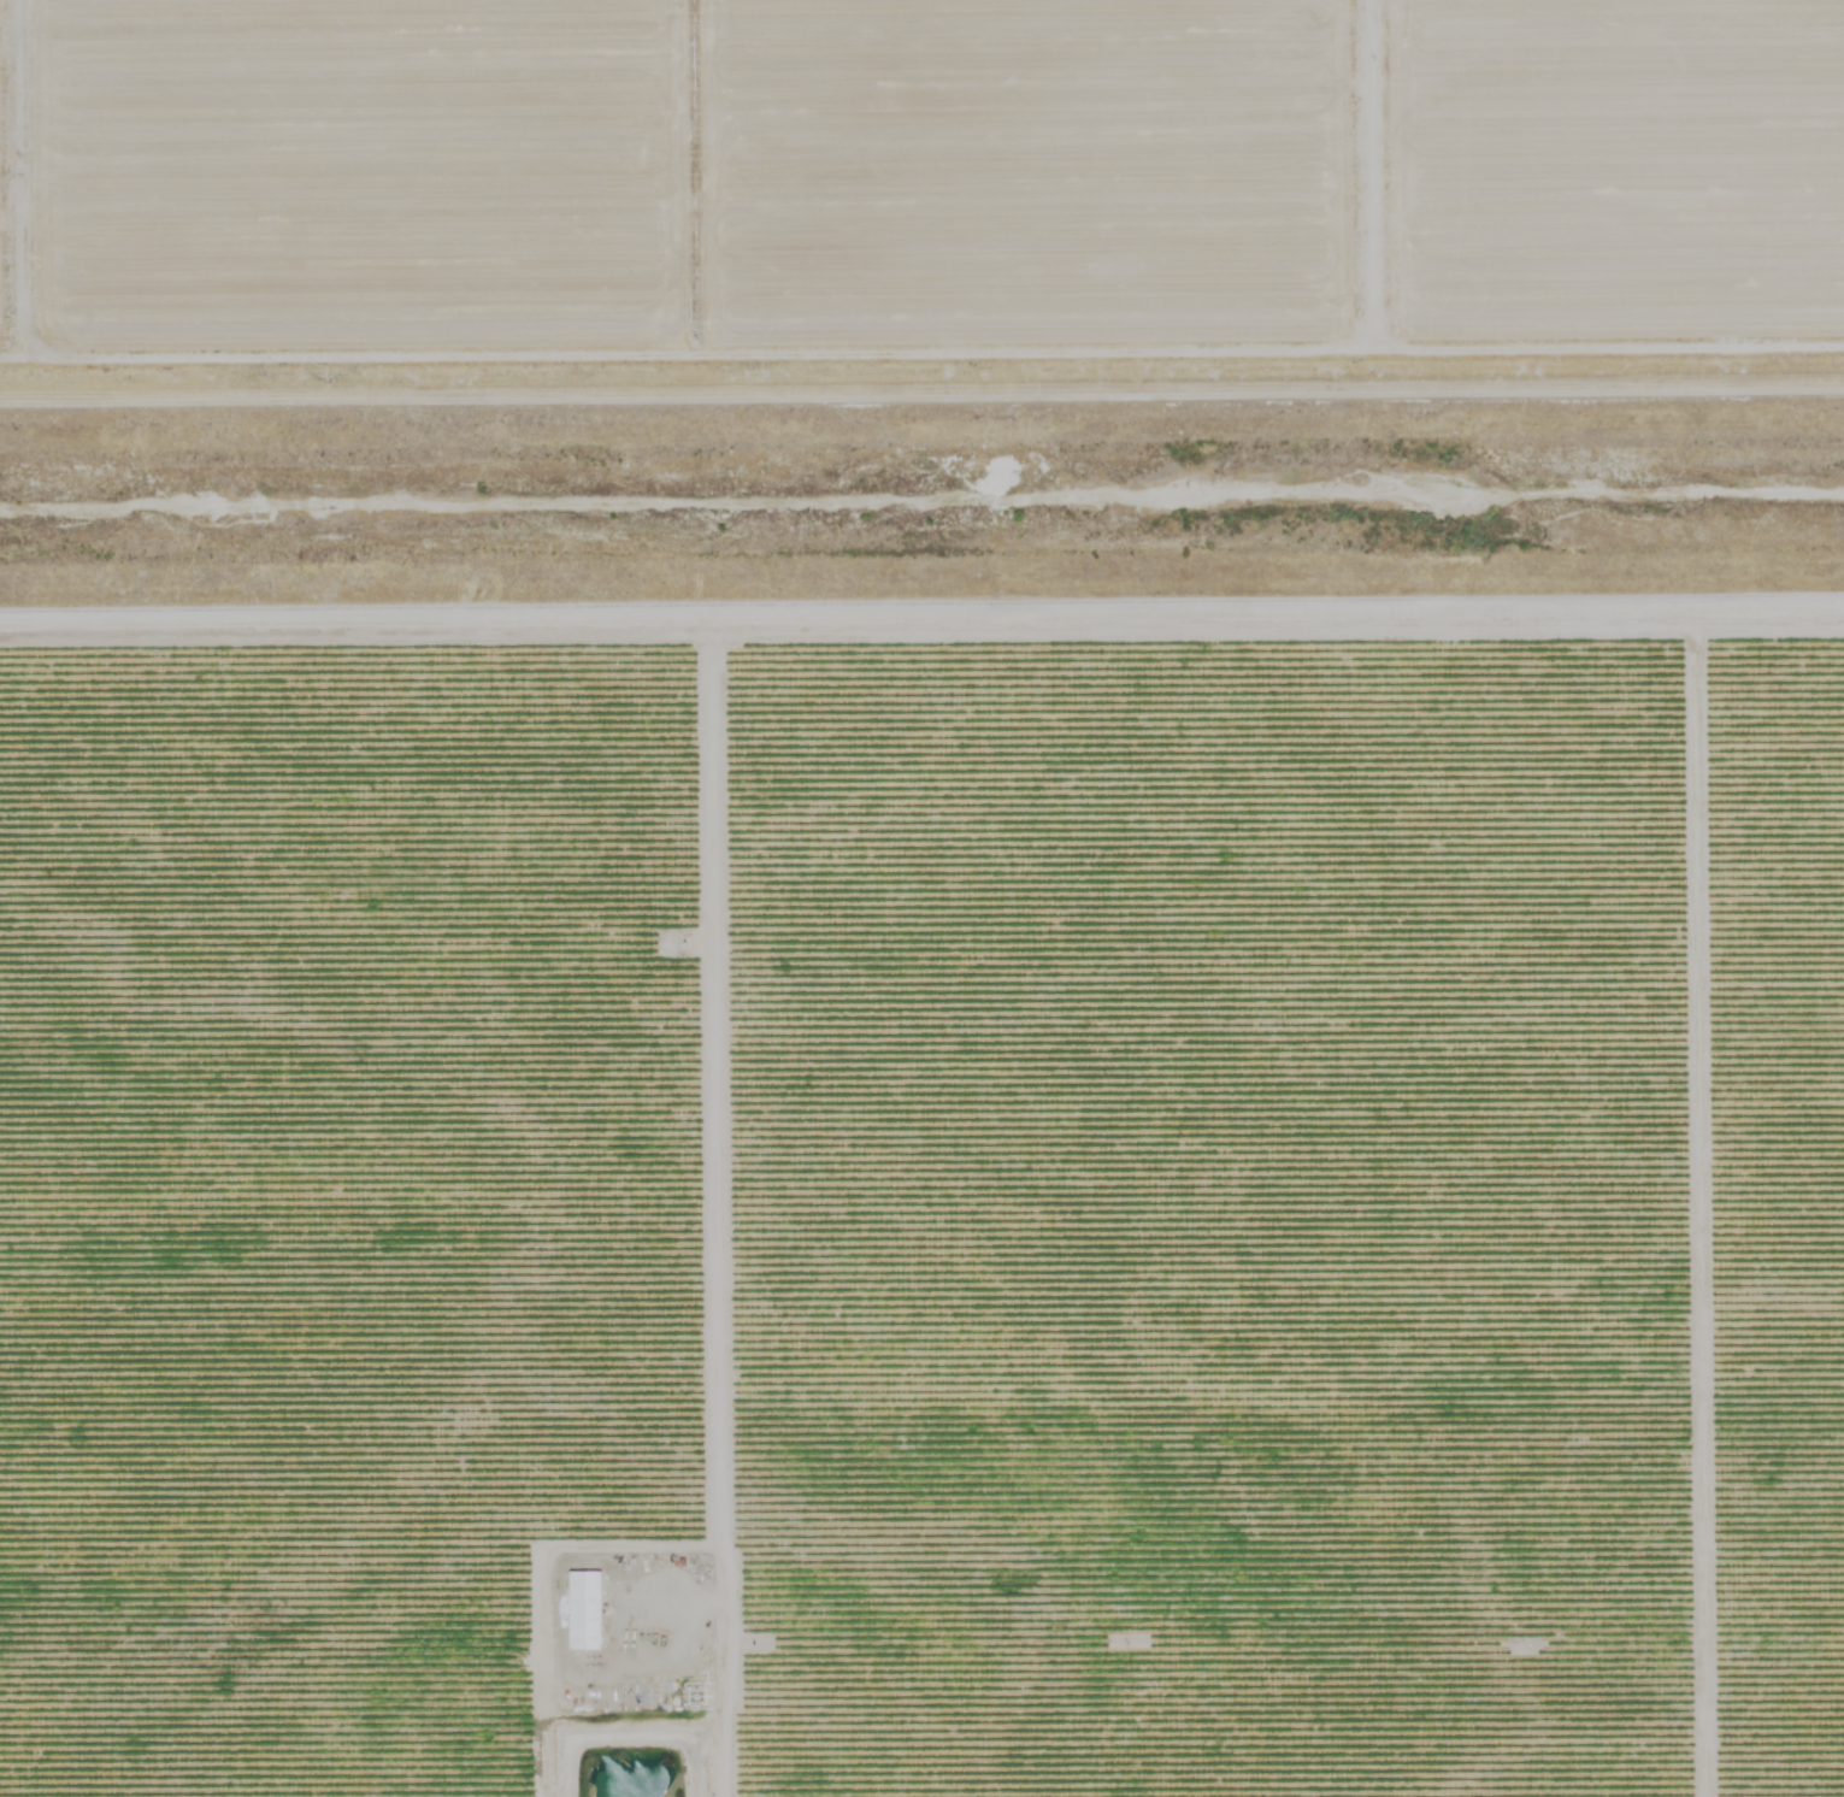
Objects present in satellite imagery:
crop: (915, 220)
river: (1791, 503)
river: (870, 515)
road: (921, 620)
road: (726, 1209)
building: (577, 1579)
road: (538, 1636)

